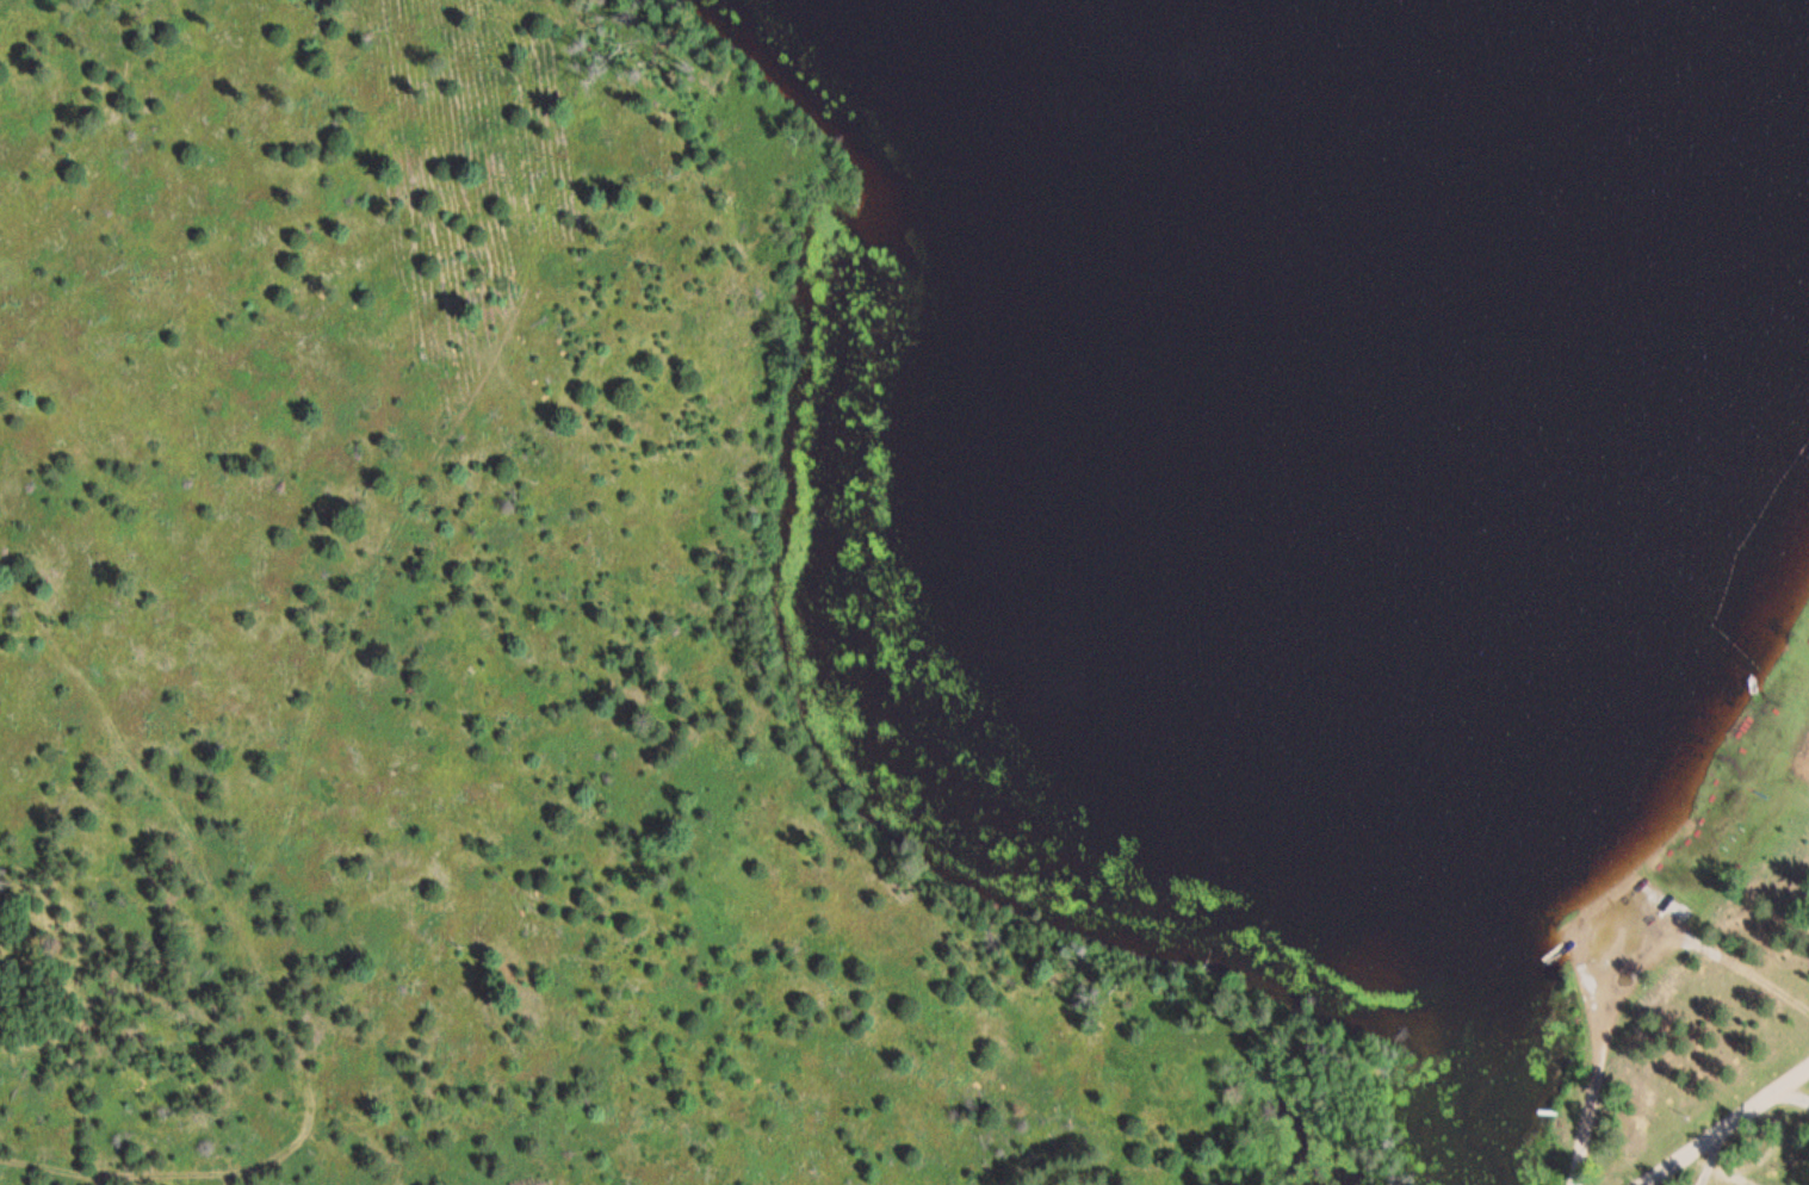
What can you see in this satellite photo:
park: (1703, 967)
road: (1597, 1056)
road: (1720, 1122)

